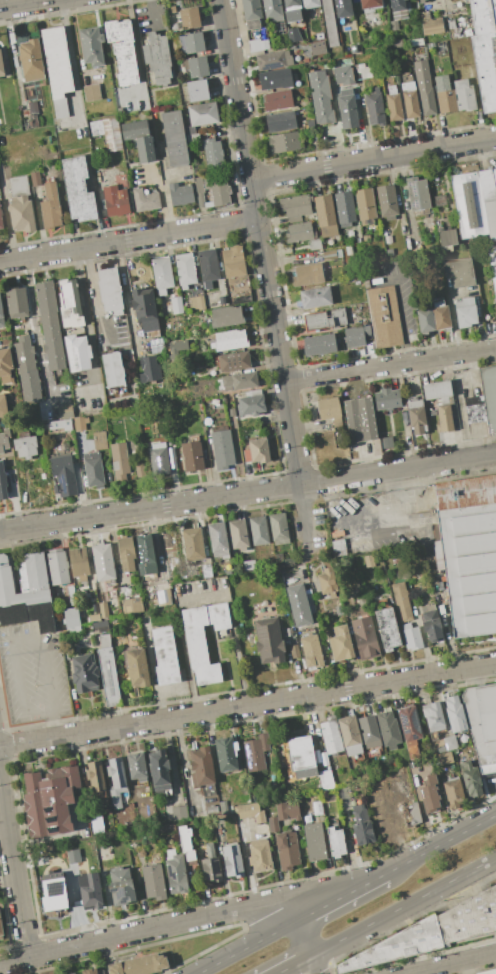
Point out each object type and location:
building: (420, 0)
building: (338, 1)
road: (23, 3)
building: (310, 3)
building: (370, 3)
building: (397, 5)
building: (292, 6)
building: (251, 9)
building: (273, 10)
road: (151, 13)
building: (426, 16)
building: (483, 16)
building: (182, 18)
building: (330, 23)
building: (253, 25)
building: (394, 25)
building: (432, 26)
building: (351, 27)
building: (291, 39)
building: (193, 42)
building: (397, 43)
building: (91, 45)
building: (256, 45)
building: (318, 48)
building: (354, 49)
building: (122, 51)
building: (419, 51)
building: (158, 57)
road: (137, 58)
building: (31, 60)
building: (273, 60)
road: (70, 62)
building: (1, 63)
building: (197, 67)
building: (57, 68)
building: (485, 69)
building: (343, 75)
building: (275, 78)
building: (424, 87)
building: (197, 90)
building: (91, 92)
building: (445, 94)
building: (464, 95)
building: (321, 97)
building: (278, 99)
building: (410, 99)
building: (393, 103)
building: (33, 108)
building: (374, 108)
building: (347, 109)
building: (203, 113)
building: (280, 121)
building: (310, 123)
building: (96, 128)
building: (134, 129)
building: (190, 131)
building: (111, 134)
building: (175, 137)
building: (192, 138)
building: (284, 142)
building: (146, 149)
building: (213, 153)
road: (374, 158)
building: (35, 179)
building: (78, 189)
building: (212, 191)
building: (417, 193)
building: (180, 194)
road: (160, 196)
building: (116, 197)
building: (145, 200)
building: (386, 200)
building: (440, 200)
building: (365, 204)
building: (20, 205)
building: (468, 205)
building: (295, 206)
building: (50, 207)
building: (344, 208)
building: (490, 214)
building: (325, 215)
building: (1, 220)
building: (299, 232)
building: (366, 237)
road: (129, 239)
building: (447, 239)
road: (263, 241)
building: (315, 244)
building: (332, 254)
building: (233, 261)
building: (208, 267)
building: (185, 269)
building: (459, 271)
building: (162, 274)
building: (307, 274)
building: (110, 291)
road: (93, 297)
building: (315, 297)
building: (16, 302)
building: (176, 302)
building: (197, 303)
building: (70, 304)
building: (169, 308)
road: (399, 308)
building: (465, 311)
building: (145, 312)
building: (440, 314)
building: (226, 316)
building: (384, 316)
building: (1, 317)
building: (325, 319)
building: (425, 320)
road: (87, 322)
building: (51, 325)
building: (356, 335)
building: (229, 340)
building: (319, 344)
building: (156, 345)
building: (178, 346)
building: (77, 353)
building: (233, 361)
building: (5, 365)
road: (390, 365)
building: (26, 368)
building: (148, 369)
building: (113, 370)
building: (239, 381)
building: (438, 389)
building: (489, 395)
building: (387, 398)
building: (251, 405)
building: (3, 406)
building: (330, 408)
building: (204, 409)
building: (474, 409)
building: (65, 412)
building: (232, 412)
building: (417, 416)
building: (445, 418)
building: (360, 419)
building: (79, 424)
building: (55, 425)
building: (99, 440)
building: (3, 442)
building: (387, 442)
building: (25, 445)
building: (220, 449)
building: (258, 450)
building: (192, 456)
building: (159, 458)
building: (120, 461)
building: (93, 469)
road: (399, 469)
building: (63, 475)
building: (2, 482)
road: (394, 500)
road: (151, 508)
road: (309, 518)
building: (279, 529)
building: (258, 530)
building: (239, 536)
building: (218, 540)
building: (193, 545)
building: (469, 552)
building: (126, 554)
building: (145, 554)
building: (368, 560)
building: (103, 562)
building: (78, 563)
building: (249, 565)
building: (58, 567)
building: (206, 571)
building: (328, 580)
building: (25, 591)
building: (164, 596)
road: (201, 597)
building: (401, 601)
building: (298, 604)
building: (131, 605)
building: (103, 610)
building: (72, 619)
building: (100, 626)
building: (431, 626)
building: (387, 628)
road: (447, 631)
building: (365, 637)
road: (10, 638)
building: (204, 638)
building: (412, 638)
building: (269, 640)
building: (341, 643)
building: (311, 651)
building: (165, 657)
building: (137, 667)
building: (108, 672)
parking lot: (32, 673)
building: (84, 673)
road: (247, 703)
building: (455, 714)
building: (433, 716)
building: (482, 724)
road: (54, 725)
building: (388, 729)
building: (410, 730)
building: (369, 731)
building: (331, 735)
building: (350, 736)
building: (448, 744)
building: (256, 752)
road: (181, 754)
building: (226, 754)
building: (302, 757)
building: (323, 759)
building: (443, 759)
building: (137, 766)
building: (201, 767)
building: (159, 769)
building: (96, 778)
building: (471, 779)
building: (325, 780)
building: (116, 782)
building: (430, 793)
building: (453, 793)
building: (49, 801)
building: (223, 807)
building: (317, 808)
building: (212, 810)
building: (247, 810)
building: (288, 810)
building: (179, 813)
building: (411, 813)
building: (273, 824)
building: (362, 825)
road: (4, 832)
building: (315, 841)
building: (336, 841)
building: (186, 842)
road: (441, 844)
building: (287, 850)
building: (260, 855)
building: (233, 860)
road: (247, 864)
building: (211, 865)
road: (14, 871)
building: (176, 872)
building: (154, 882)
building: (121, 887)
building: (90, 890)
building: (54, 893)
road: (342, 897)
road: (404, 905)
building: (469, 918)
building: (1, 928)
road: (150, 929)
road: (305, 938)
building: (396, 946)
road: (248, 947)
road: (295, 964)
road: (316, 964)
road: (452, 964)
building: (140, 965)
road: (463, 968)
building: (89, 971)
building: (488, 972)
building: (72, 973)

